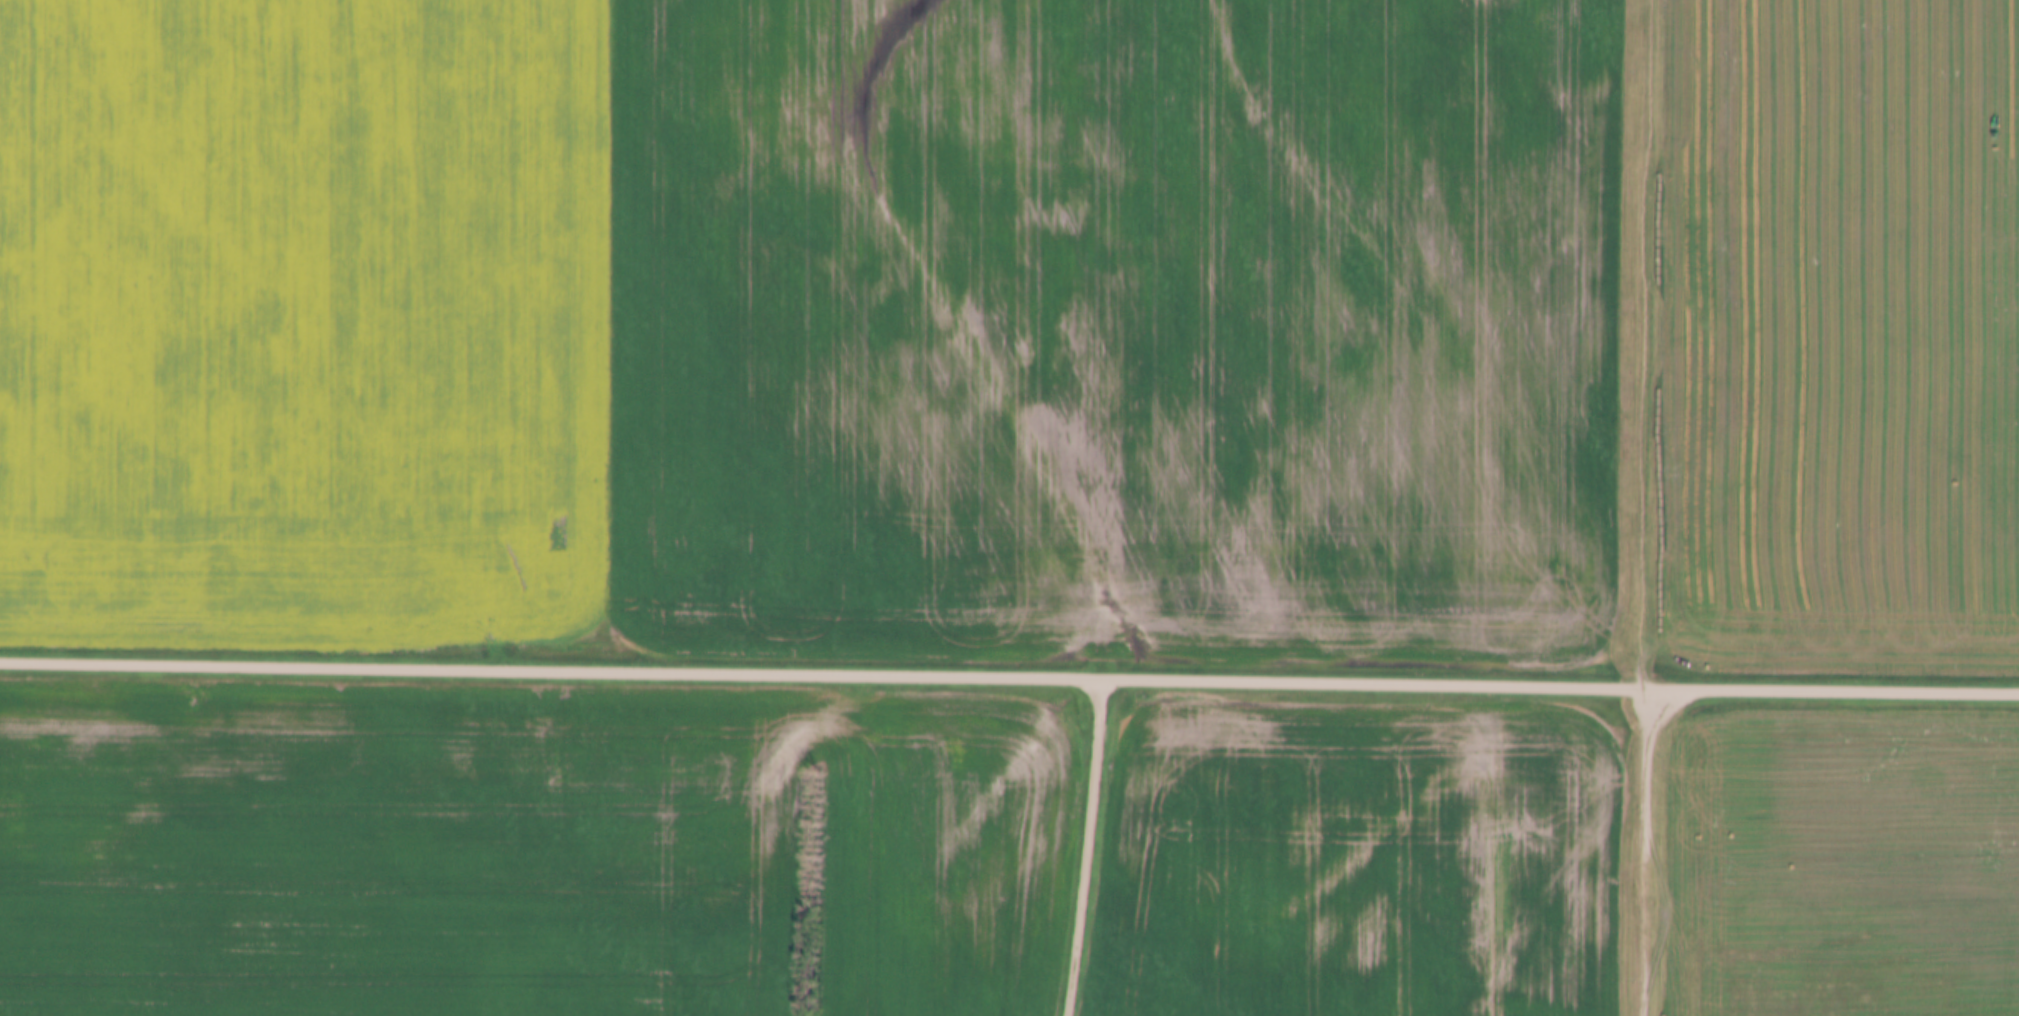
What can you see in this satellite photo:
road: (1639, 343)
road: (1009, 674)
road: (1091, 846)
road: (1636, 851)

